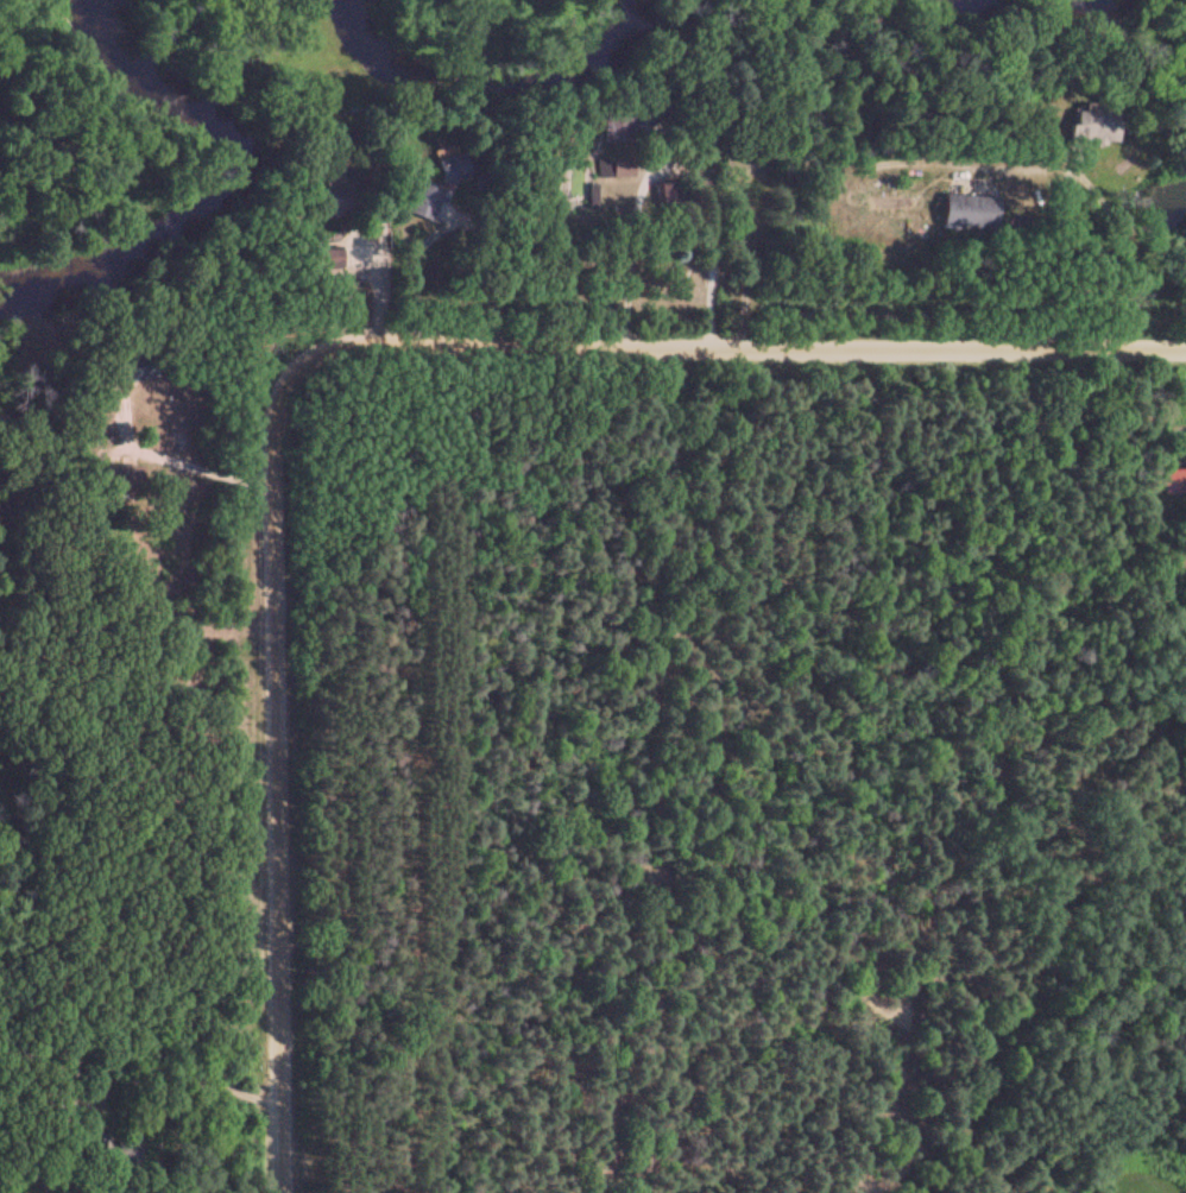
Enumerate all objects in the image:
river: (1029, 24)
river: (498, 95)
building: (1096, 125)
building: (625, 126)
building: (450, 164)
building: (614, 169)
river: (227, 187)
building: (668, 197)
building: (330, 201)
building: (422, 201)
building: (969, 213)
building: (324, 259)
road: (730, 349)
building: (135, 365)
road: (171, 462)
building: (121, 486)
road: (272, 783)
building: (122, 1155)

